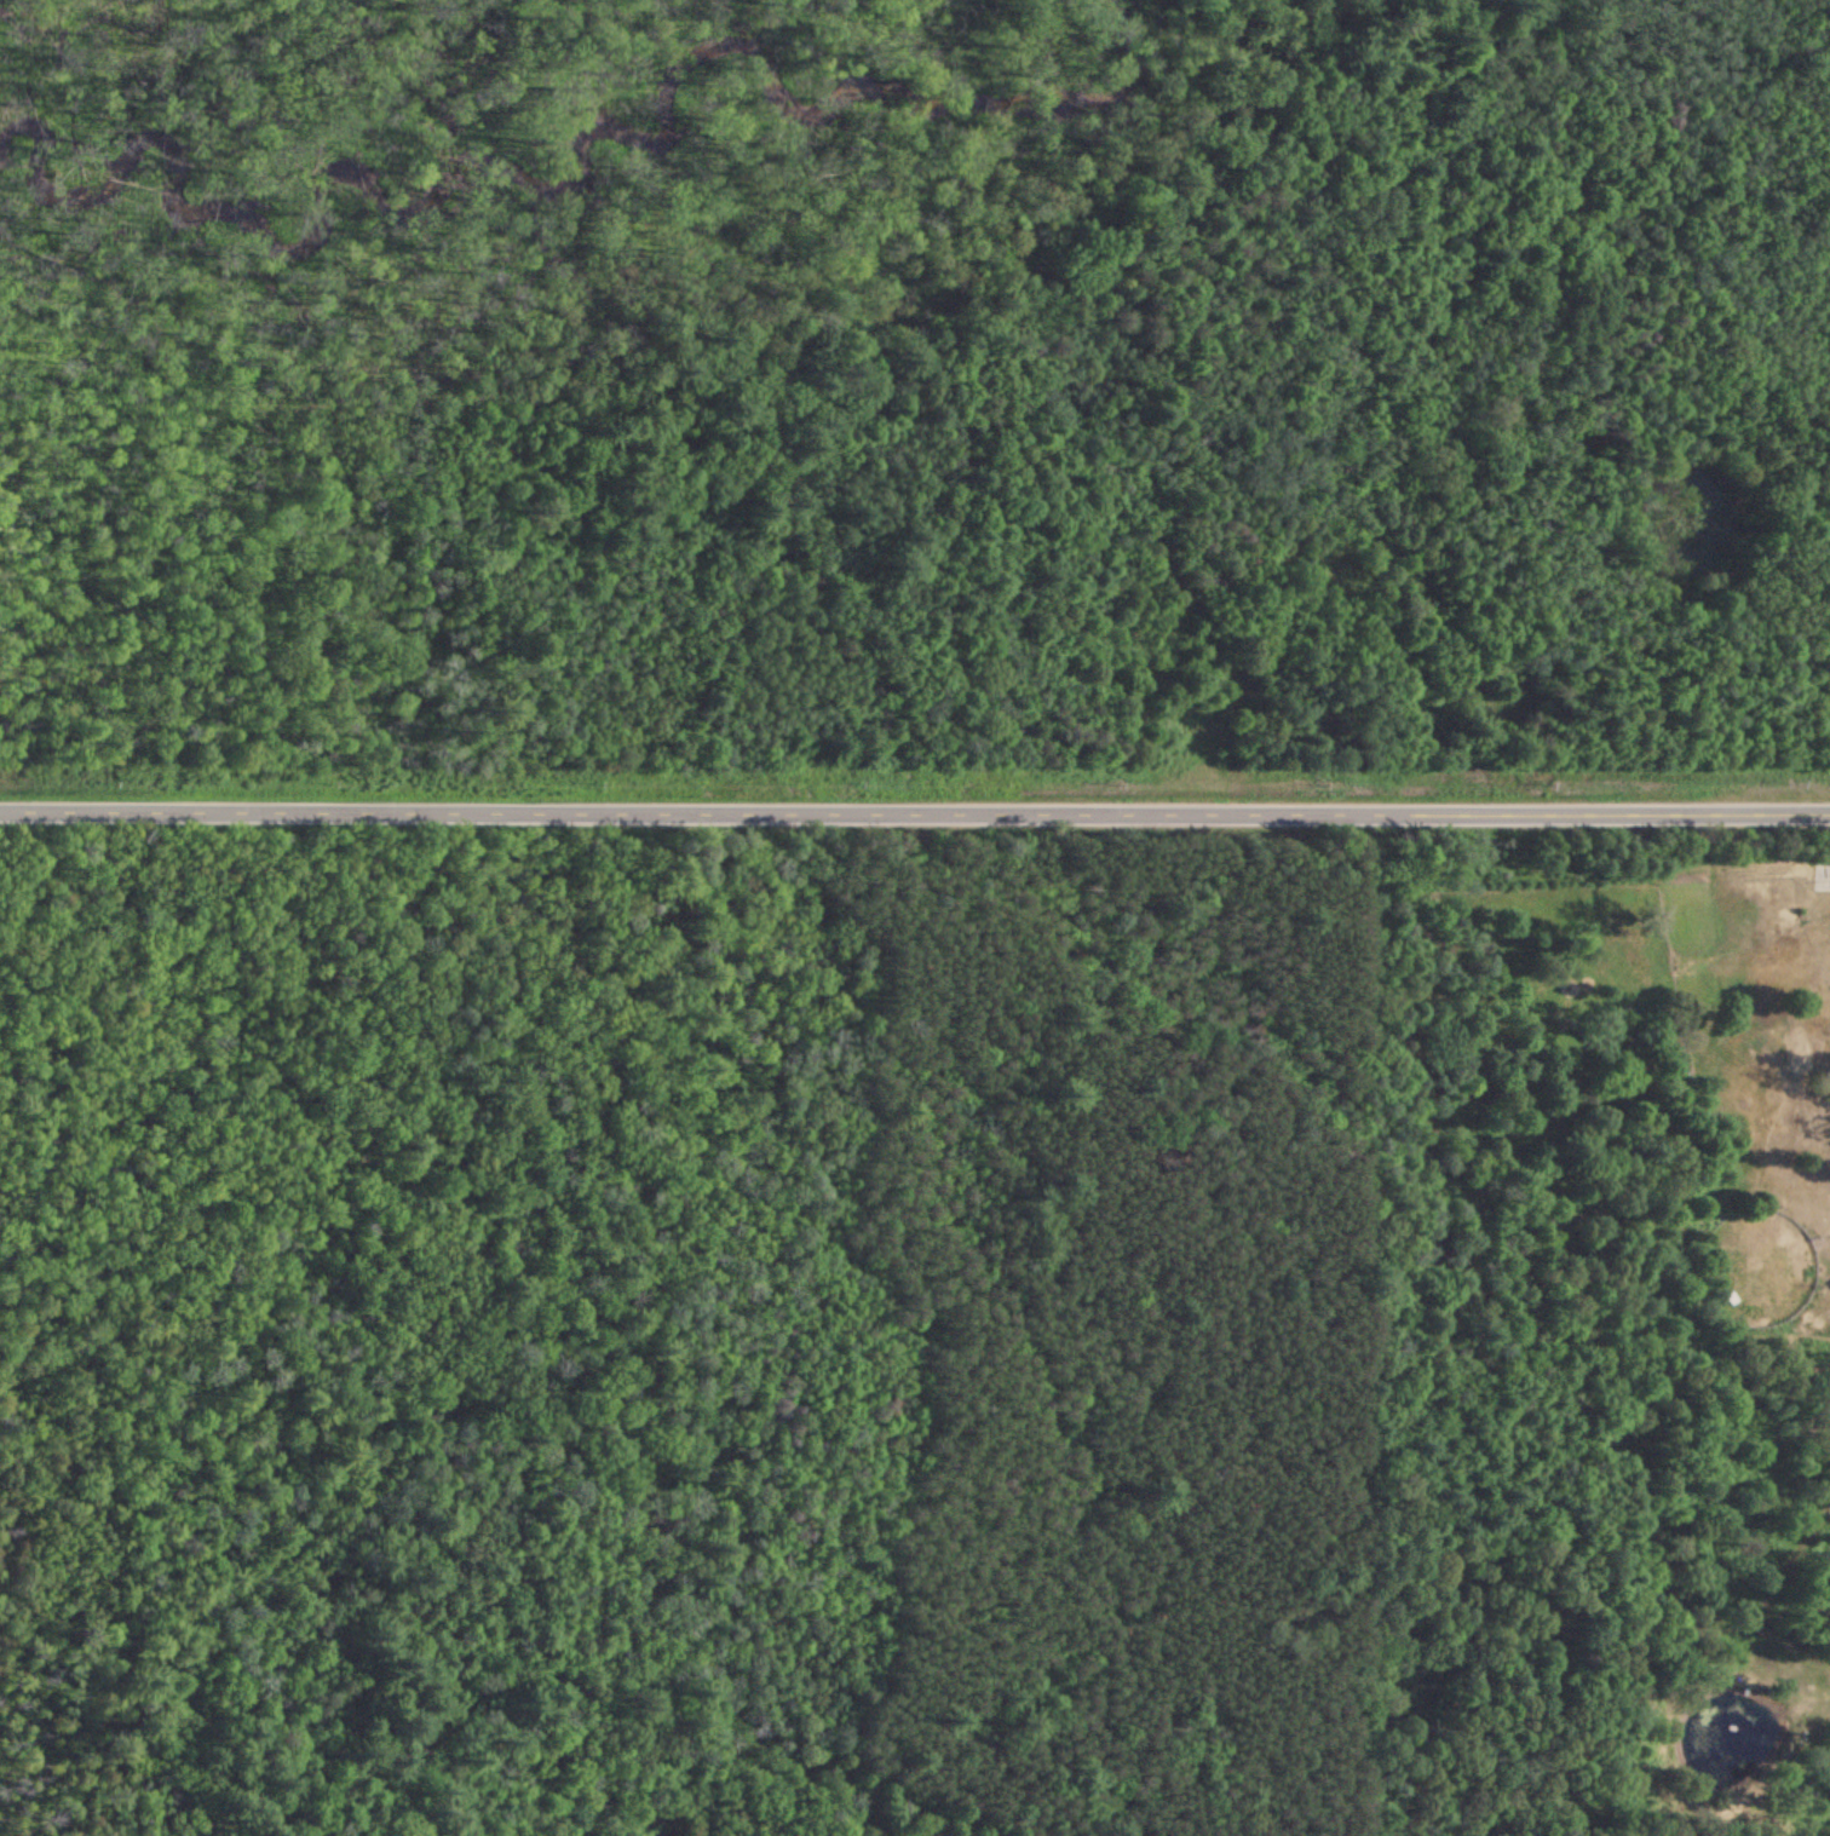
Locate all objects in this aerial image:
road: (914, 813)

